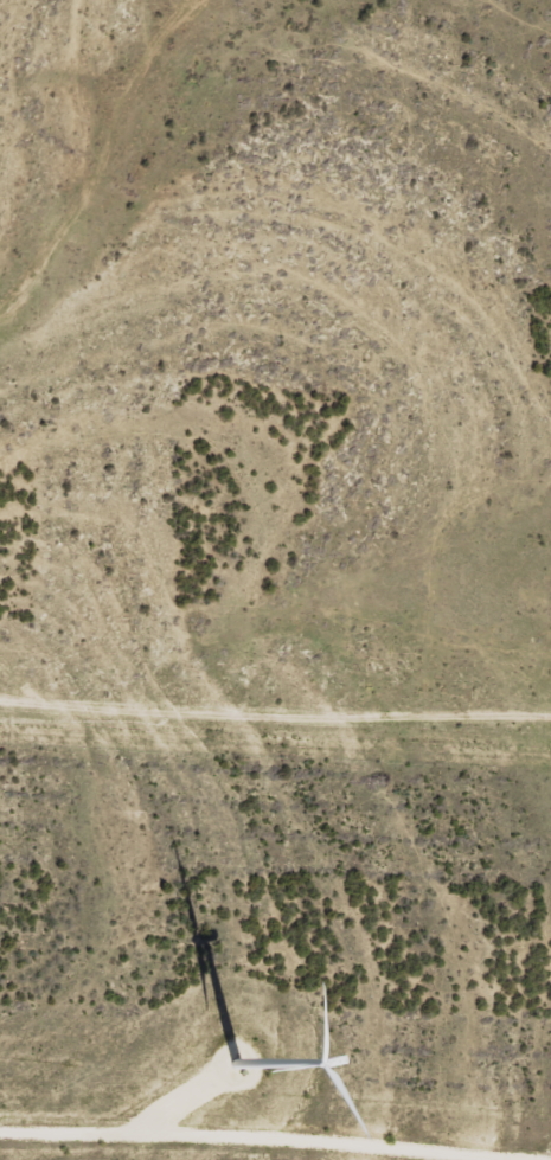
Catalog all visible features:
road: (275, 737)
wind turbine: (239, 1055)
road: (255, 1137)

